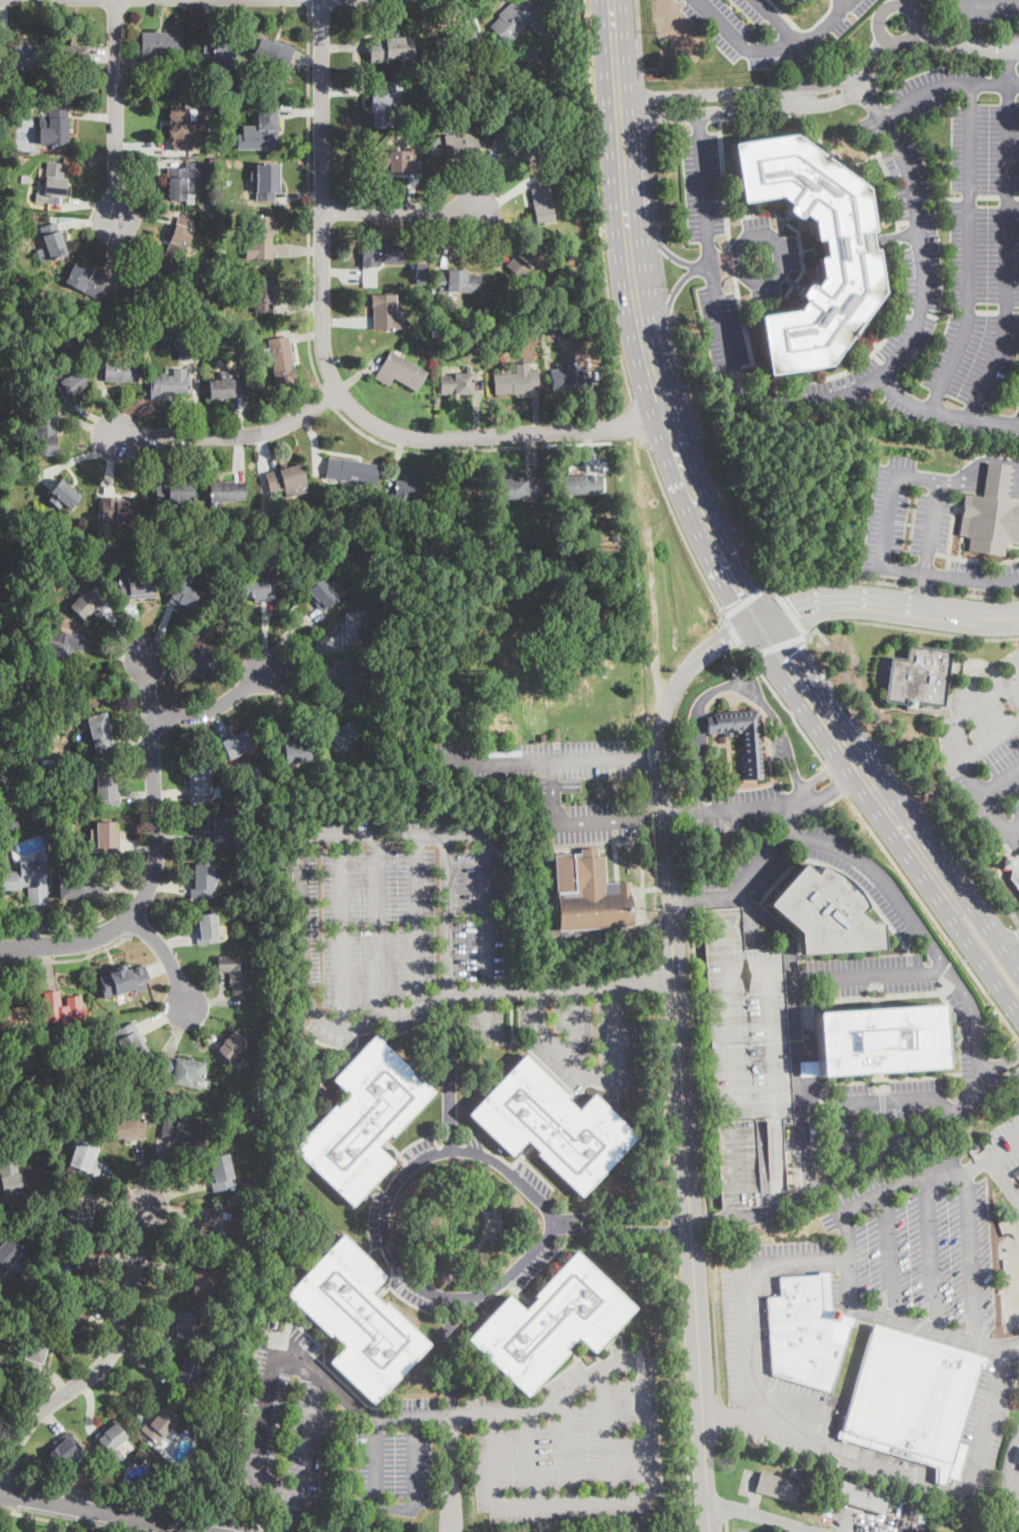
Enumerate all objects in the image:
road: (977, 2)
road: (309, 3)
road: (907, 3)
parking lot: (977, 10)
building: (519, 21)
road: (824, 23)
parking lot: (770, 30)
road: (883, 34)
road: (639, 42)
building: (456, 43)
road: (965, 44)
building: (158, 46)
road: (771, 48)
building: (389, 49)
building: (219, 50)
building: (73, 56)
building: (273, 56)
building: (20, 57)
road: (1009, 67)
road: (803, 75)
road: (946, 85)
road: (863, 89)
road: (761, 90)
building: (54, 91)
building: (482, 100)
road: (729, 101)
building: (499, 103)
building: (383, 105)
building: (213, 106)
road: (771, 106)
road: (644, 108)
road: (116, 109)
building: (226, 115)
road: (698, 121)
building: (55, 128)
building: (182, 129)
building: (259, 131)
building: (455, 144)
building: (516, 145)
building: (211, 150)
building: (396, 160)
building: (570, 170)
building: (267, 182)
road: (654, 183)
building: (53, 185)
building: (180, 186)
parking lot: (704, 186)
road: (315, 194)
road: (309, 199)
building: (10, 201)
building: (543, 205)
road: (600, 210)
road: (397, 213)
building: (212, 214)
building: (14, 219)
road: (896, 235)
building: (180, 239)
building: (259, 239)
road: (658, 242)
building: (18, 243)
building: (51, 243)
road: (659, 243)
road: (970, 251)
building: (381, 253)
parking lot: (768, 254)
building: (850, 254)
road: (1007, 254)
parking lot: (946, 255)
building: (526, 258)
road: (716, 263)
road: (663, 274)
road: (758, 278)
building: (85, 281)
building: (460, 282)
building: (142, 284)
building: (265, 295)
road: (314, 305)
road: (668, 306)
building: (123, 311)
building: (162, 311)
road: (665, 311)
building: (386, 312)
building: (150, 328)
building: (110, 330)
building: (555, 330)
road: (314, 333)
parking lot: (723, 337)
building: (283, 362)
road: (327, 367)
building: (121, 370)
building: (401, 372)
building: (569, 377)
building: (516, 380)
building: (75, 383)
building: (170, 385)
building: (227, 385)
building: (456, 385)
road: (326, 398)
road: (828, 398)
road: (943, 413)
building: (1, 418)
road: (636, 423)
road: (1018, 423)
building: (47, 435)
road: (230, 435)
road: (590, 436)
road: (472, 443)
road: (463, 450)
road: (982, 460)
road: (706, 462)
road: (998, 467)
building: (351, 471)
road: (994, 473)
road: (923, 478)
road: (991, 478)
building: (287, 480)
road: (987, 483)
building: (578, 485)
road: (986, 486)
road: (690, 488)
building: (460, 489)
building: (518, 489)
building: (413, 490)
building: (227, 491)
building: (352, 491)
building: (174, 492)
building: (66, 494)
building: (119, 510)
building: (991, 514)
road: (887, 520)
building: (277, 525)
road: (931, 526)
road: (680, 528)
parking lot: (920, 531)
building: (259, 535)
building: (406, 536)
building: (615, 536)
building: (272, 557)
road: (949, 576)
road: (844, 581)
building: (136, 585)
building: (40, 589)
building: (259, 589)
road: (923, 589)
road: (921, 591)
building: (326, 594)
road: (976, 596)
building: (183, 597)
road: (744, 600)
building: (87, 603)
road: (887, 605)
road: (792, 613)
traffic signals: (758, 617)
road: (916, 628)
building: (353, 629)
road: (732, 631)
road: (812, 631)
road: (284, 635)
park: (523, 637)
building: (2, 638)
building: (61, 643)
road: (778, 644)
building: (44, 650)
building: (201, 662)
building: (883, 673)
building: (919, 677)
building: (350, 684)
road: (727, 685)
road: (988, 694)
road: (948, 702)
road: (783, 704)
road: (214, 706)
parking lot: (766, 715)
building: (99, 734)
building: (556, 735)
building: (341, 736)
building: (259, 738)
building: (543, 738)
road: (990, 739)
building: (237, 745)
parking lot: (986, 751)
building: (259, 752)
building: (291, 752)
road: (650, 758)
building: (753, 760)
road: (537, 762)
building: (47, 763)
road: (825, 772)
road: (921, 775)
road: (835, 777)
road: (972, 777)
road: (1000, 778)
parking lot: (562, 782)
building: (200, 784)
road: (835, 787)
road: (154, 789)
building: (107, 790)
road: (553, 792)
road: (653, 801)
parking lot: (741, 806)
road: (750, 809)
road: (677, 813)
building: (7, 816)
road: (788, 819)
road: (604, 820)
building: (34, 826)
road: (1014, 827)
building: (222, 834)
road: (393, 834)
building: (106, 838)
building: (1014, 869)
road: (705, 875)
building: (28, 881)
building: (202, 881)
road: (882, 882)
building: (80, 886)
road: (914, 892)
building: (589, 894)
road: (678, 896)
road: (686, 897)
building: (258, 901)
building: (825, 913)
road: (447, 915)
road: (418, 918)
road: (79, 925)
road: (119, 925)
road: (380, 926)
building: (206, 929)
road: (342, 930)
road: (993, 934)
road: (486, 935)
road: (552, 936)
road: (1008, 937)
road: (68, 943)
parking lot: (434, 944)
road: (655, 952)
road: (165, 954)
road: (67, 958)
road: (979, 963)
building: (234, 973)
road: (869, 973)
building: (123, 979)
road: (656, 979)
building: (259, 983)
road: (561, 985)
parking lot: (861, 996)
road: (304, 997)
building: (62, 1010)
building: (16, 1020)
road: (574, 1025)
road: (794, 1031)
building: (879, 1040)
building: (131, 1042)
building: (232, 1046)
road: (679, 1053)
building: (746, 1055)
parking garage: (746, 1055)
building: (27, 1060)
road: (696, 1060)
road: (1004, 1062)
building: (239, 1065)
building: (809, 1068)
building: (182, 1070)
road: (449, 1073)
road: (1009, 1075)
road: (598, 1078)
building: (154, 1090)
building: (26, 1094)
road: (664, 1100)
building: (161, 1105)
road: (886, 1113)
building: (363, 1120)
building: (553, 1125)
building: (127, 1128)
building: (183, 1133)
parking lot: (1004, 1139)
road: (1004, 1149)
building: (86, 1157)
road: (974, 1167)
road: (855, 1168)
building: (56, 1172)
road: (934, 1172)
building: (221, 1173)
building: (1016, 1173)
building: (10, 1181)
road: (1004, 1181)
building: (53, 1184)
road: (1009, 1184)
building: (38, 1210)
building: (78, 1210)
road: (620, 1214)
building: (999, 1218)
road: (707, 1219)
parking lot: (380, 1223)
road: (672, 1223)
building: (211, 1225)
road: (620, 1227)
road: (932, 1251)
building: (10, 1255)
road: (888, 1255)
building: (86, 1262)
parking lot: (874, 1272)
road: (1008, 1274)
parking lot: (1010, 1277)
building: (201, 1279)
road: (1014, 1283)
building: (67, 1286)
road: (453, 1296)
road: (747, 1297)
building: (2, 1303)
road: (713, 1314)
building: (76, 1315)
building: (357, 1319)
building: (551, 1324)
building: (184, 1326)
road: (937, 1330)
building: (806, 1332)
building: (9, 1335)
building: (259, 1344)
building: (34, 1352)
road: (1014, 1364)
building: (1, 1367)
road: (100, 1367)
building: (185, 1376)
road: (682, 1386)
road: (115, 1391)
building: (912, 1400)
parking lot: (991, 1404)
road: (455, 1413)
road: (728, 1413)
road: (450, 1414)
building: (161, 1424)
parking lot: (329, 1431)
road: (605, 1434)
road: (311, 1436)
road: (262, 1438)
building: (112, 1442)
parking lot: (574, 1444)
road: (568, 1447)
building: (63, 1449)
road: (532, 1456)
building: (1018, 1460)
road: (1011, 1465)
building: (795, 1472)
road: (9, 1478)
building: (197, 1480)
building: (163, 1485)
road: (933, 1485)
building: (777, 1486)
road: (0, 1493)
building: (859, 1496)
road: (593, 1499)
road: (1010, 1500)
road: (146, 1502)
road: (397, 1508)
road: (290, 1512)
road: (103, 1513)
road: (759, 1515)
road: (1001, 1519)
road: (60, 1520)
road: (106, 1523)
road: (726, 1525)
parking lot: (990, 1526)
parking lot: (746, 1528)
road: (288, 1529)

